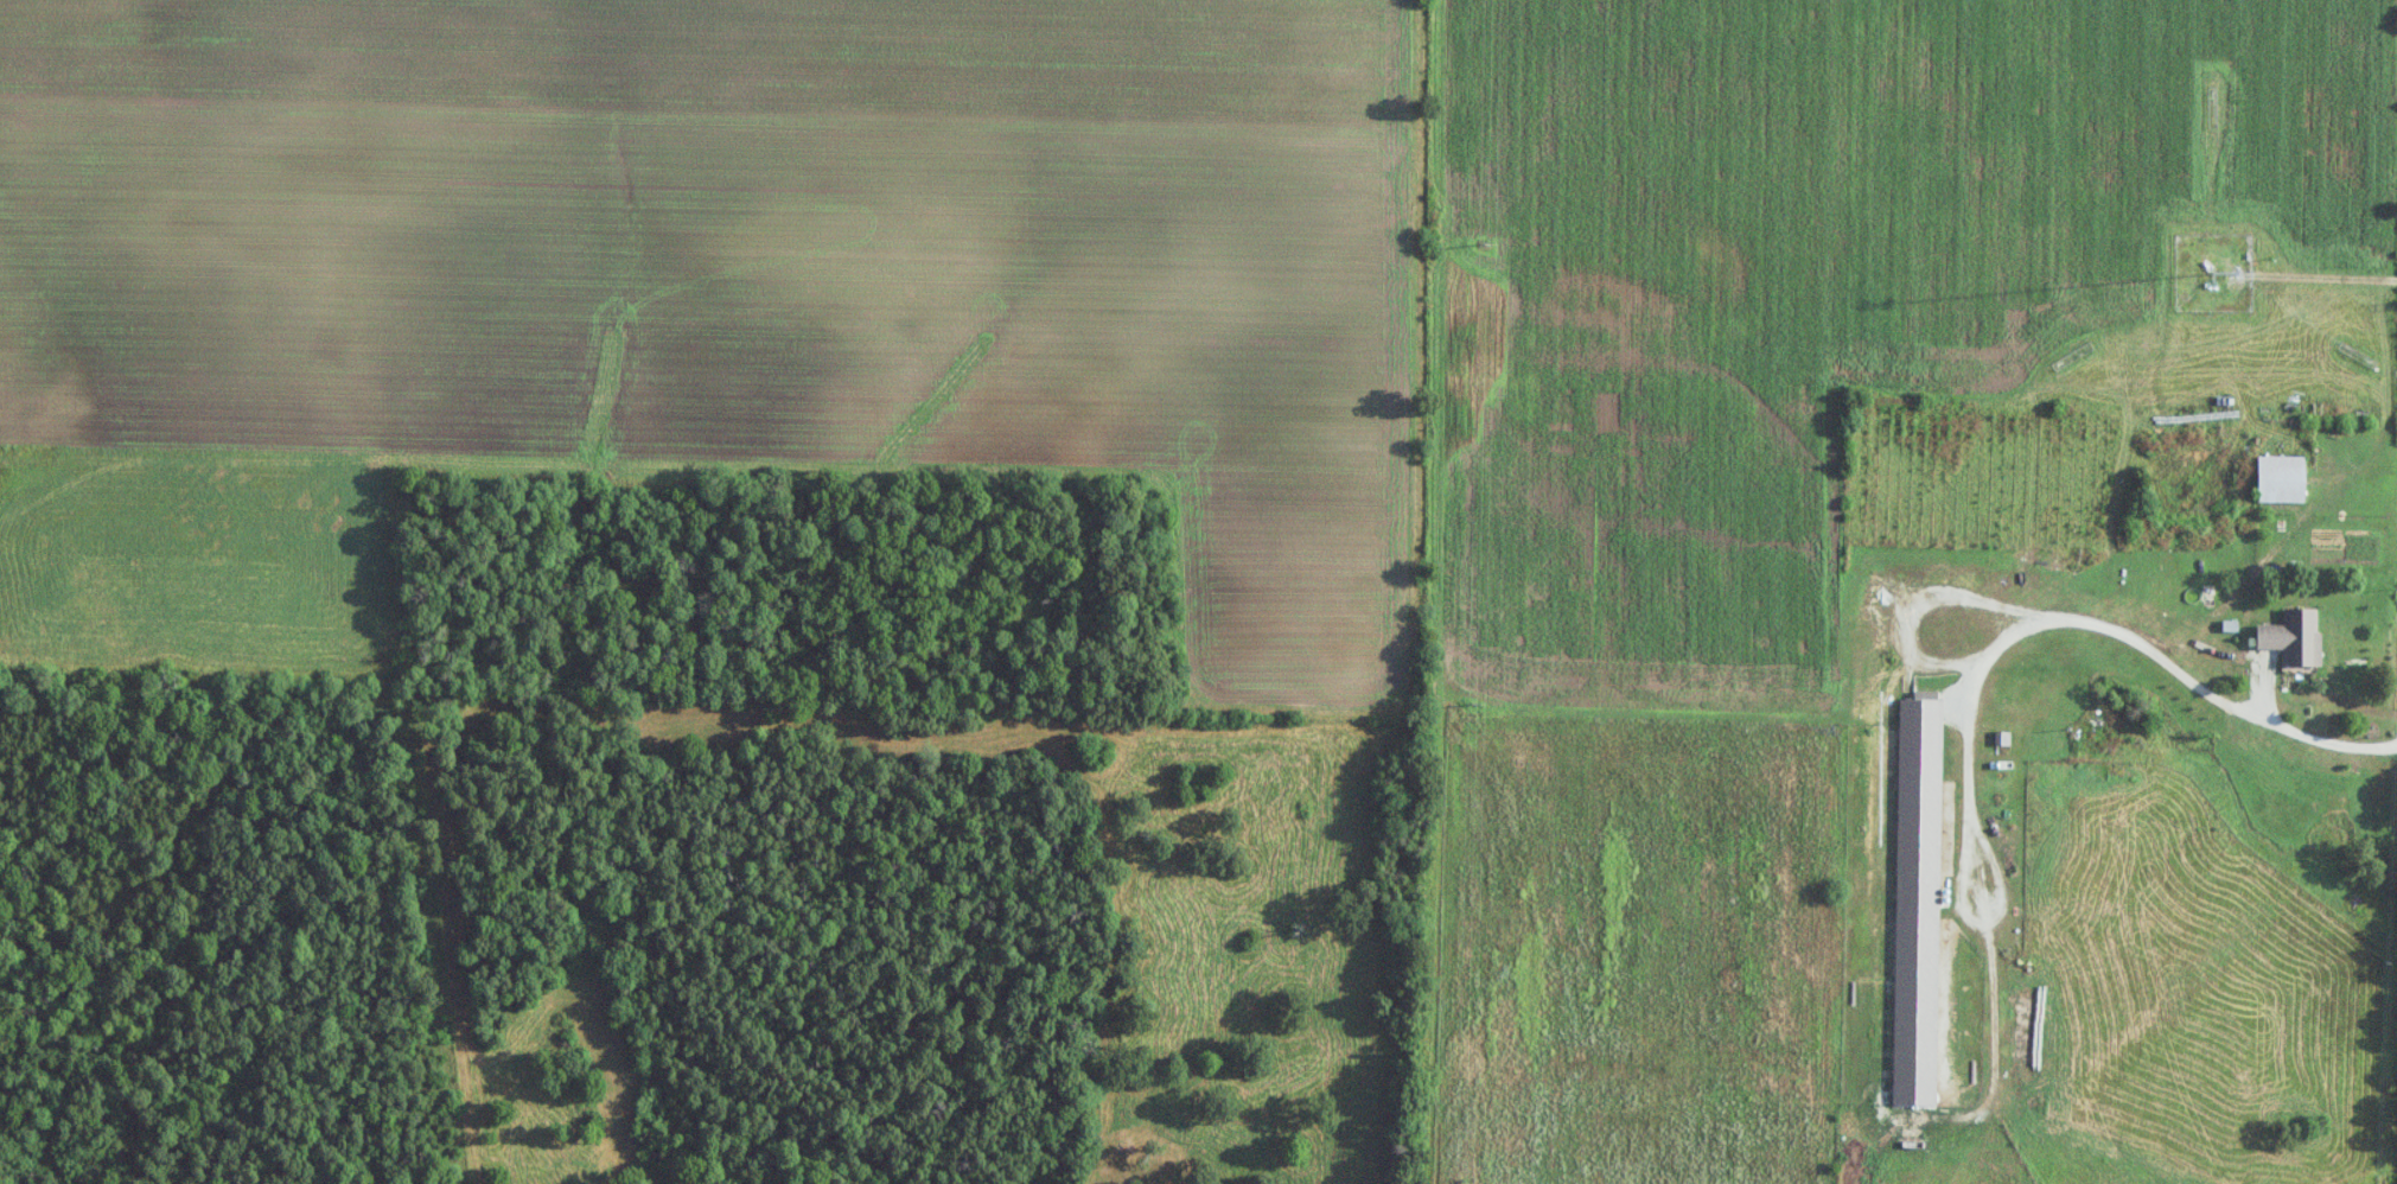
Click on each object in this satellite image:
road: (2314, 286)
building: (2283, 478)
building: (2296, 636)
road: (2314, 696)

